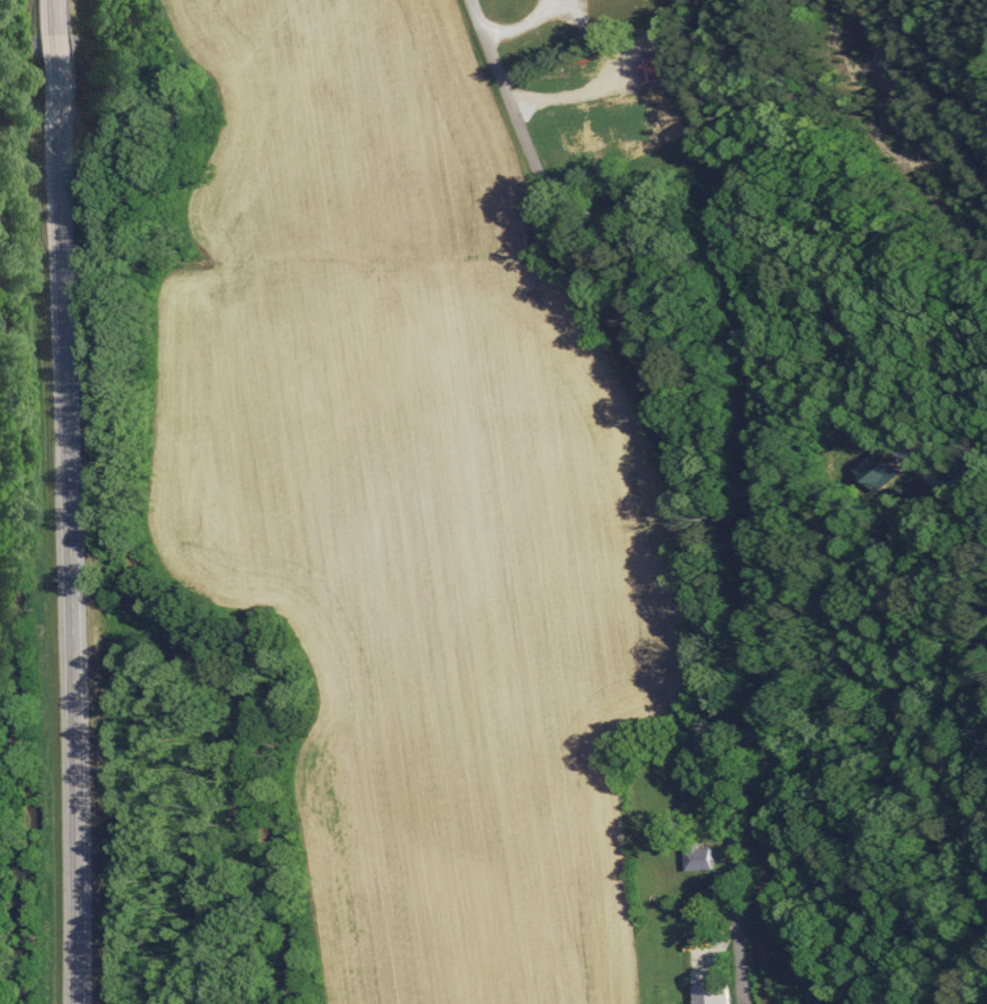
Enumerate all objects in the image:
road: (513, 21)
building: (649, 70)
road: (690, 478)
road: (68, 501)
building: (701, 858)

